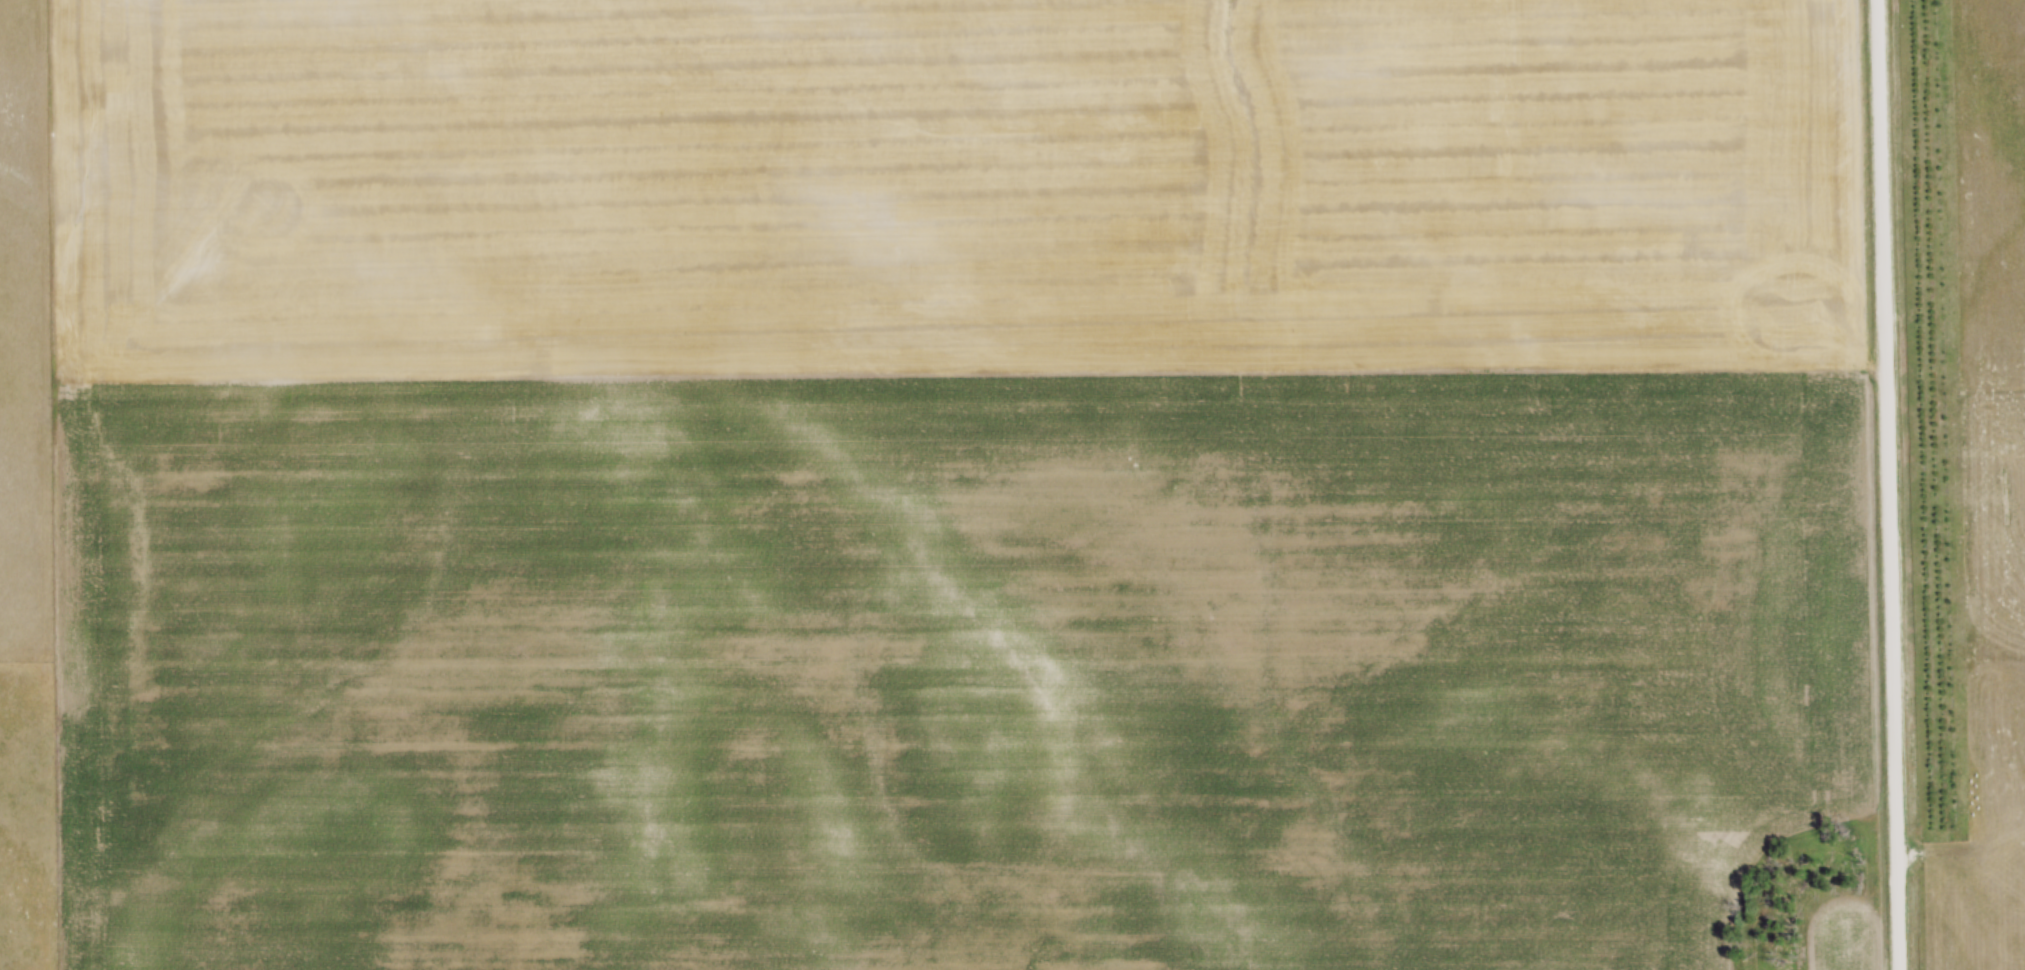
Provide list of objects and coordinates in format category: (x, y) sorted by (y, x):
road: (1890, 485)

